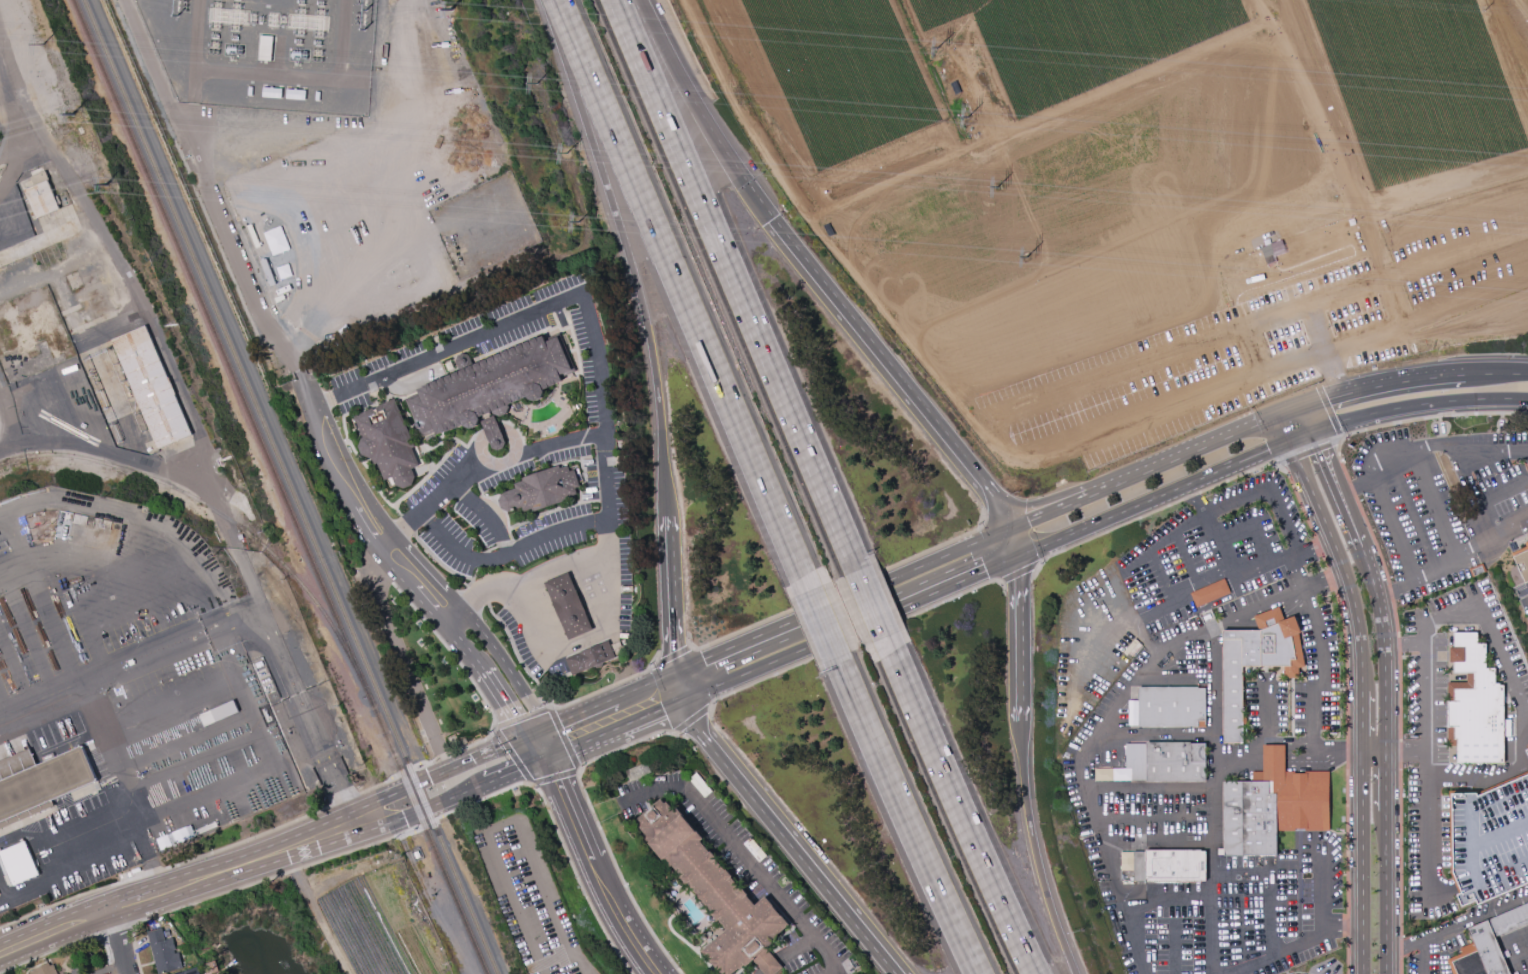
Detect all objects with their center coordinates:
crop: (945, 13)
power tower: (511, 17)
road: (569, 23)
crop: (1086, 42)
road: (662, 43)
power tower: (50, 46)
building: (265, 48)
power tower: (941, 49)
power substation: (265, 52)
crop: (839, 75)
crop: (1414, 87)
power tower: (539, 88)
building: (271, 92)
building: (295, 94)
power tower: (73, 117)
power tower: (973, 121)
road: (471, 133)
road: (731, 152)
power tower: (569, 156)
road: (353, 181)
power tower: (108, 187)
road: (204, 188)
power tower: (1001, 191)
building: (42, 197)
road: (239, 202)
power tower: (582, 226)
road: (338, 231)
building: (1269, 250)
road: (1457, 254)
road: (1378, 260)
power tower: (1028, 261)
road: (1296, 268)
road: (634, 279)
road: (737, 282)
road: (1310, 305)
road: (688, 316)
road: (289, 323)
road: (1464, 336)
road: (876, 345)
road: (1326, 350)
road: (598, 368)
road: (299, 373)
road: (1493, 374)
road: (1401, 383)
building: (489, 384)
building: (153, 388)
road: (1322, 400)
road: (1419, 407)
traffic signals: (1303, 408)
road: (1291, 412)
road: (1329, 412)
traffic signals: (1280, 417)
road: (1433, 418)
road: (1308, 420)
road: (1286, 429)
traffic signals: (1314, 433)
road: (1303, 437)
road: (480, 439)
building: (387, 441)
traffic signals: (1292, 441)
road: (556, 442)
road: (1427, 448)
railway: (265, 451)
road: (1309, 453)
road: (1185, 456)
road: (449, 485)
railway: (290, 486)
building: (541, 488)
road: (1338, 489)
road: (1155, 496)
road: (998, 498)
road: (1196, 499)
road: (1237, 500)
road: (1476, 500)
road: (361, 507)
road: (1053, 508)
railway: (222, 514)
road: (483, 514)
road: (1285, 519)
road: (402, 527)
building: (1527, 535)
road: (1018, 538)
road: (1496, 540)
road: (1220, 548)
road: (1284, 559)
road: (1183, 560)
building: (1522, 561)
road: (1342, 562)
road: (553, 564)
road: (910, 569)
building: (1476, 569)
road: (1435, 570)
road: (1036, 571)
road: (610, 573)
road: (1163, 575)
road: (1322, 578)
road: (991, 580)
road: (956, 582)
road: (1003, 587)
road: (1396, 588)
road: (44, 592)
building: (1209, 592)
road: (671, 595)
road: (493, 596)
road: (1527, 597)
road: (1335, 600)
road: (468, 604)
building: (568, 605)
road: (1255, 607)
road: (1153, 609)
road: (1455, 610)
road: (875, 611)
gas station: (568, 612)
road: (872, 619)
road: (527, 626)
road: (827, 633)
road: (1022, 637)
road: (580, 640)
road: (1088, 641)
road: (739, 644)
road: (1405, 644)
road: (1319, 647)
road: (1385, 648)
building: (590, 658)
building: (1255, 661)
road: (769, 664)
road: (506, 667)
road: (102, 673)
traffic signals: (676, 673)
park: (438, 678)
road: (646, 686)
road: (681, 687)
road: (237, 691)
road: (296, 693)
road: (1212, 696)
building: (1167, 707)
building: (1474, 707)
road: (488, 709)
road: (689, 712)
building: (219, 713)
road: (581, 714)
road: (653, 715)
road: (696, 716)
road: (1364, 721)
road: (1154, 735)
road: (565, 740)
road: (553, 743)
road: (590, 743)
road: (1519, 746)
road: (507, 751)
road: (1338, 751)
road: (1374, 751)
building: (1527, 751)
parking garage: (1527, 751)
road: (1407, 752)
traffic signals: (560, 756)
road: (1245, 761)
building: (1158, 763)
road: (563, 765)
road: (449, 767)
road: (1084, 775)
road: (1472, 778)
road: (1385, 781)
building: (40, 783)
road: (481, 786)
road: (1152, 789)
road: (549, 791)
road: (136, 800)
road: (343, 800)
building: (1271, 806)
road: (1157, 814)
road: (969, 816)
road: (381, 818)
road: (511, 820)
road: (596, 822)
building: (206, 828)
road: (916, 828)
road: (1430, 831)
road: (558, 834)
building: (181, 835)
building: (1490, 841)
parking garage: (1490, 841)
building: (163, 842)
road: (109, 847)
road: (797, 849)
road: (1041, 849)
road: (742, 854)
road: (258, 858)
building: (1125, 861)
road: (1363, 862)
building: (18, 864)
building: (1169, 866)
road: (163, 868)
road: (610, 877)
road: (1271, 886)
road: (1324, 889)
road: (1385, 892)
building: (715, 894)
road: (1215, 894)
road: (1169, 896)
parking lot: (528, 897)
road: (135, 900)
road: (315, 911)
road: (56, 924)
crop: (374, 926)
road: (1456, 926)
road: (1344, 928)
road: (673, 931)
railway: (471, 938)
road: (120, 940)
building: (1487, 943)
road: (1510, 946)
road: (796, 949)
building: (163, 950)
road: (1520, 951)
road: (1277, 952)
road: (1424, 957)
road: (551, 959)
road: (706, 961)
road: (768, 966)
building: (44, 968)
building: (189, 971)
building: (66, 973)

